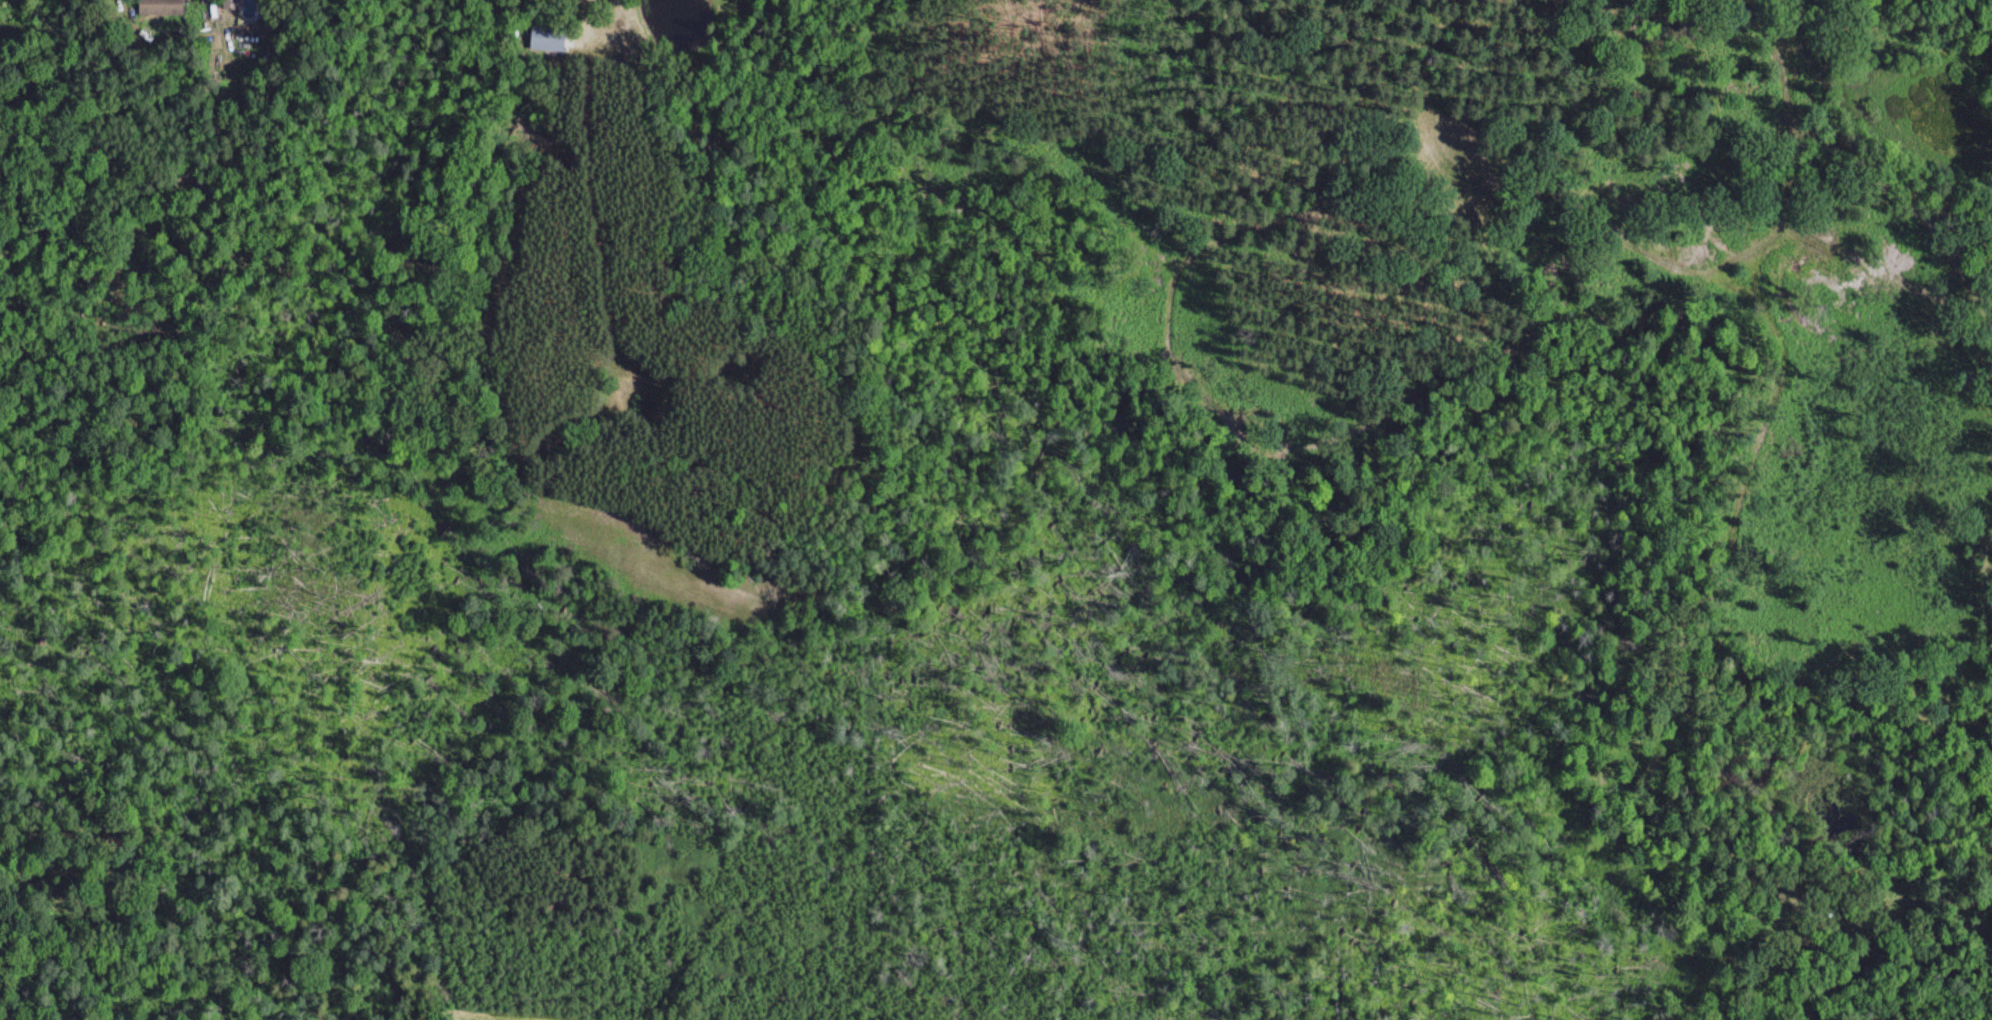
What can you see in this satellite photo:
building: (230, 4)
building: (160, 7)
building: (546, 37)

